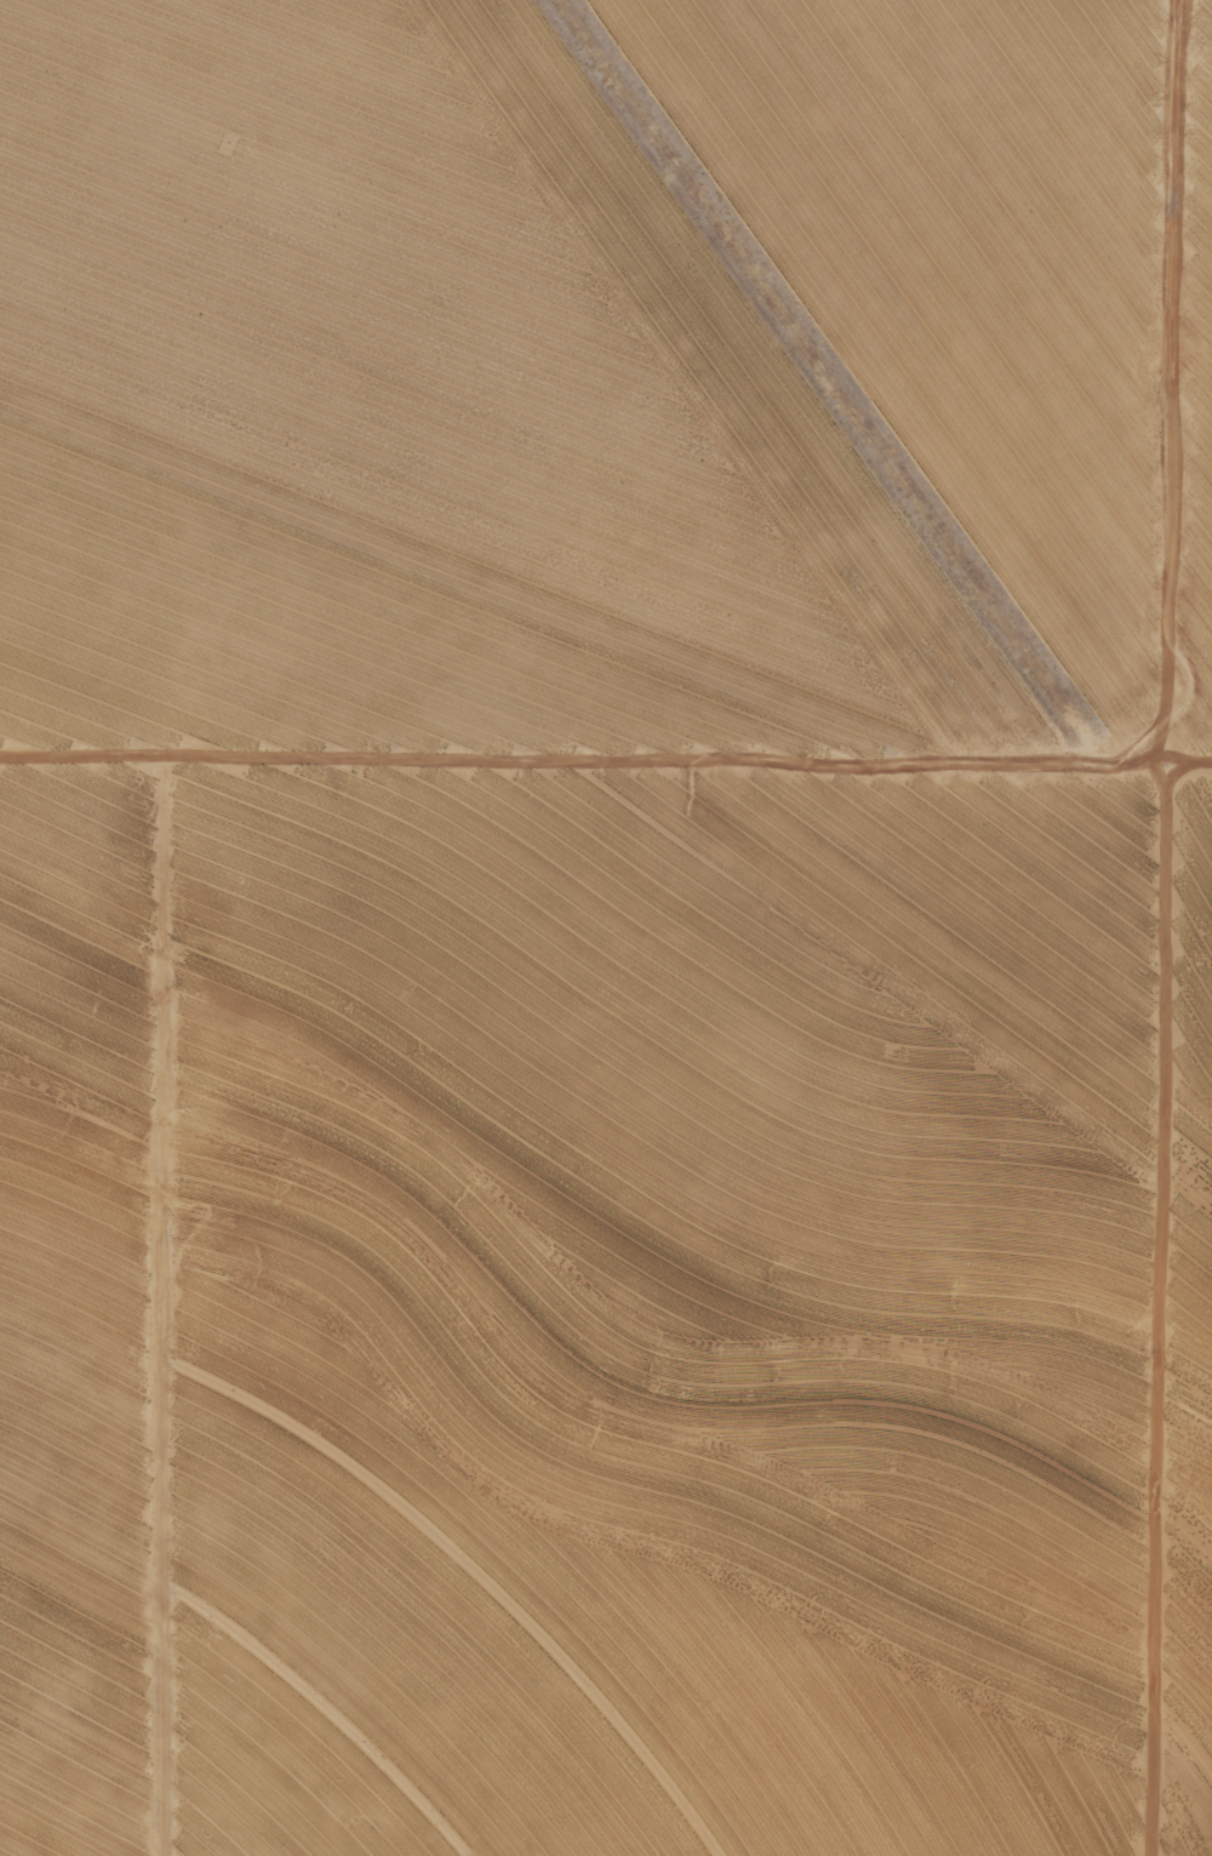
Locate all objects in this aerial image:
road: (1139, 1266)

